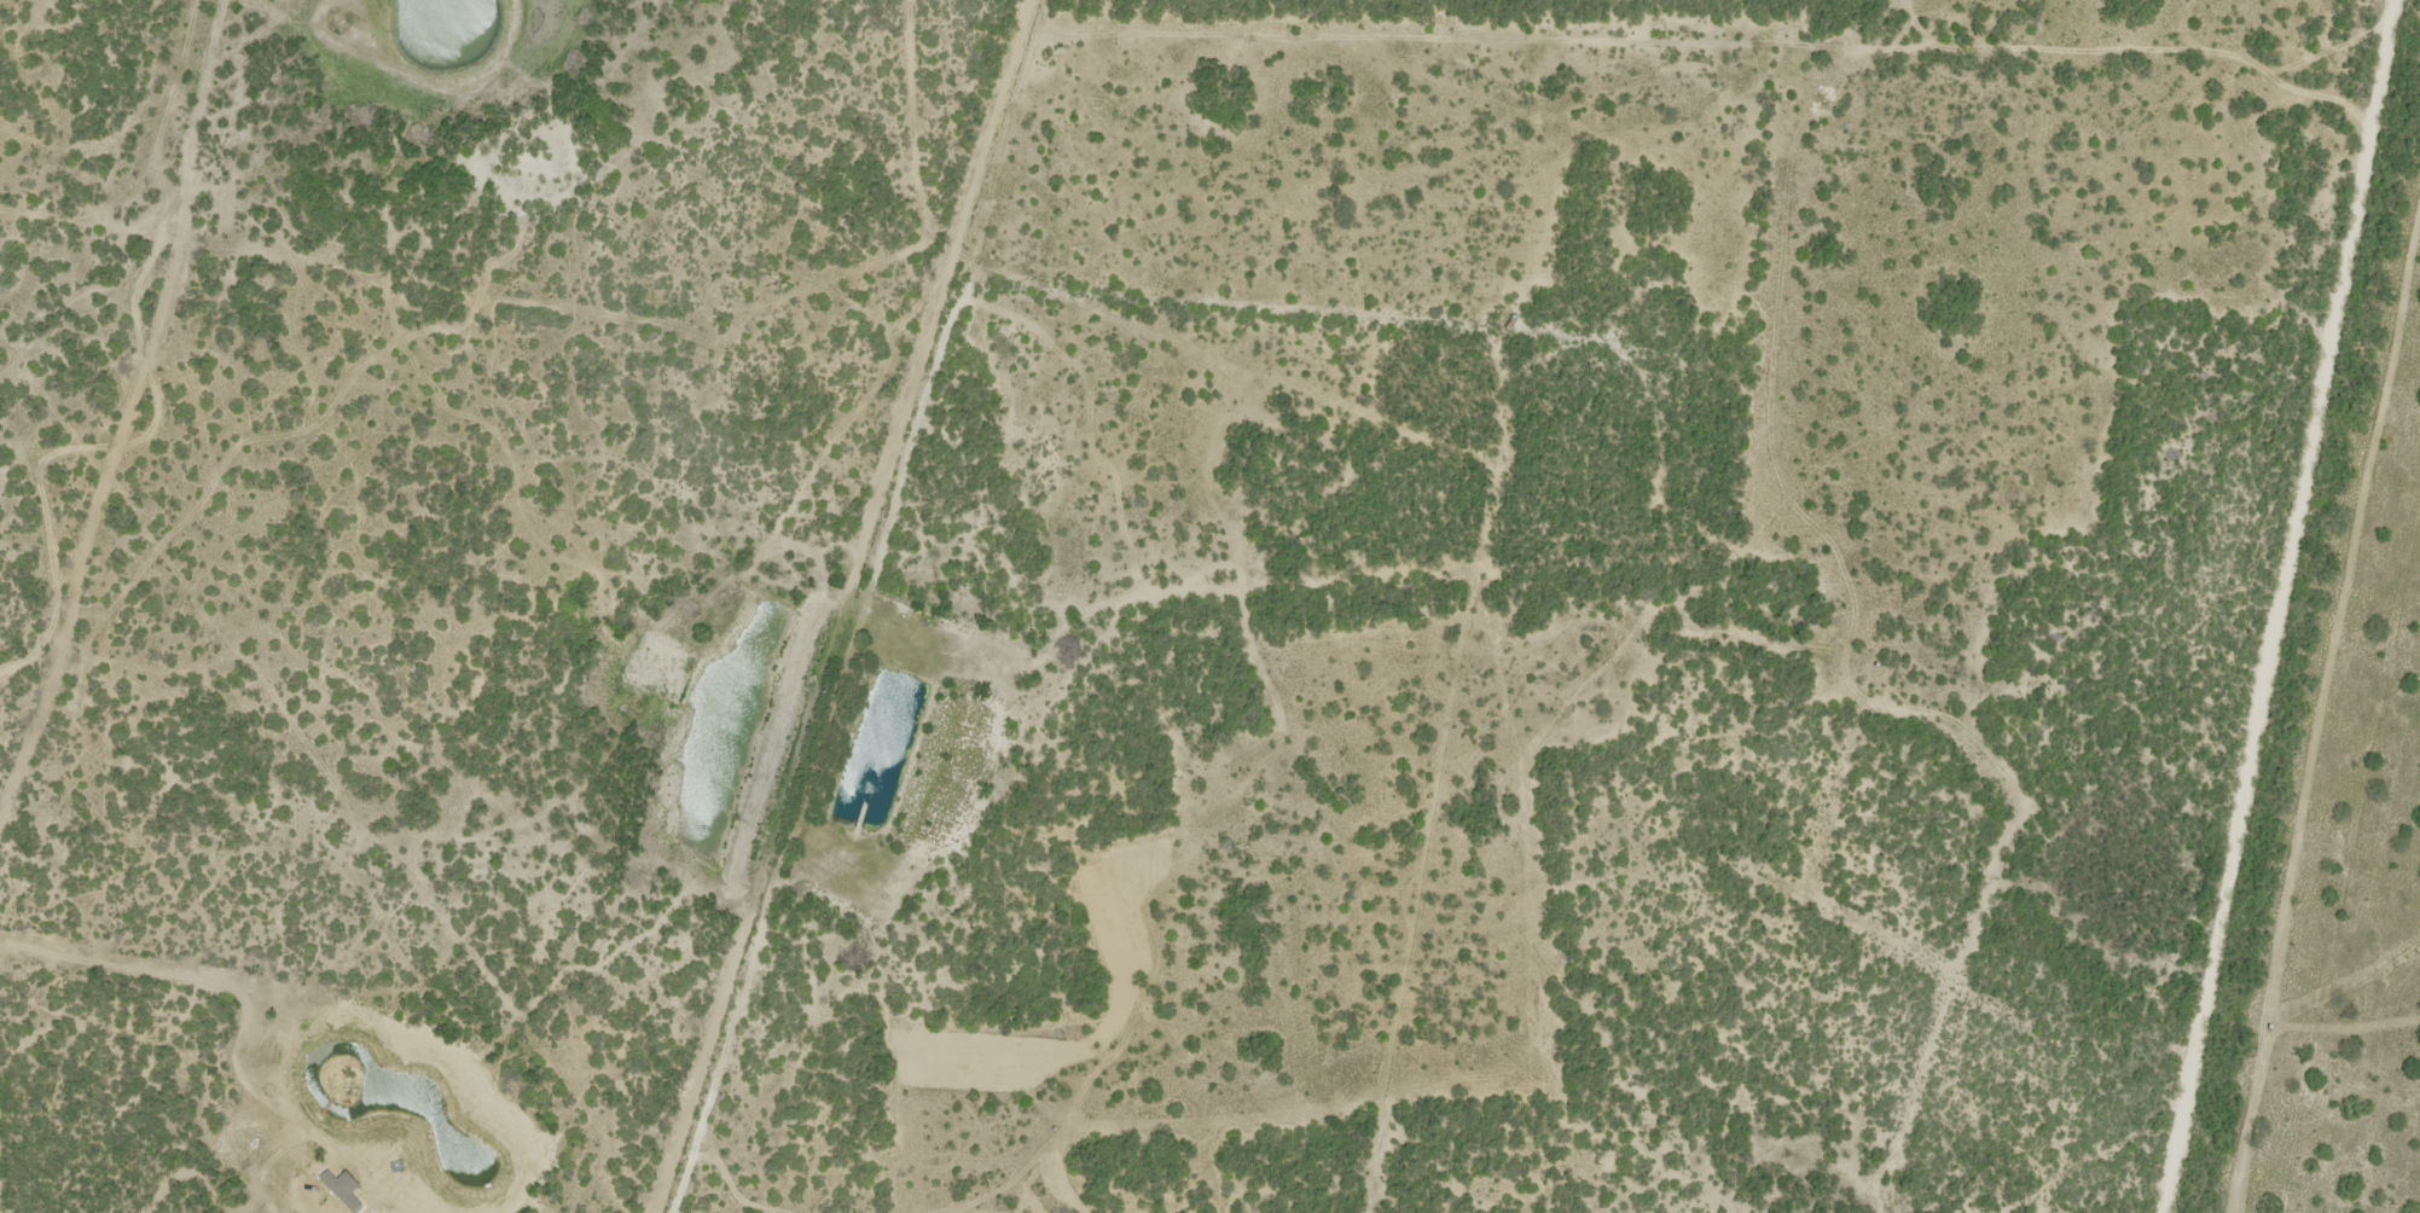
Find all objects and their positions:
road: (2277, 605)

